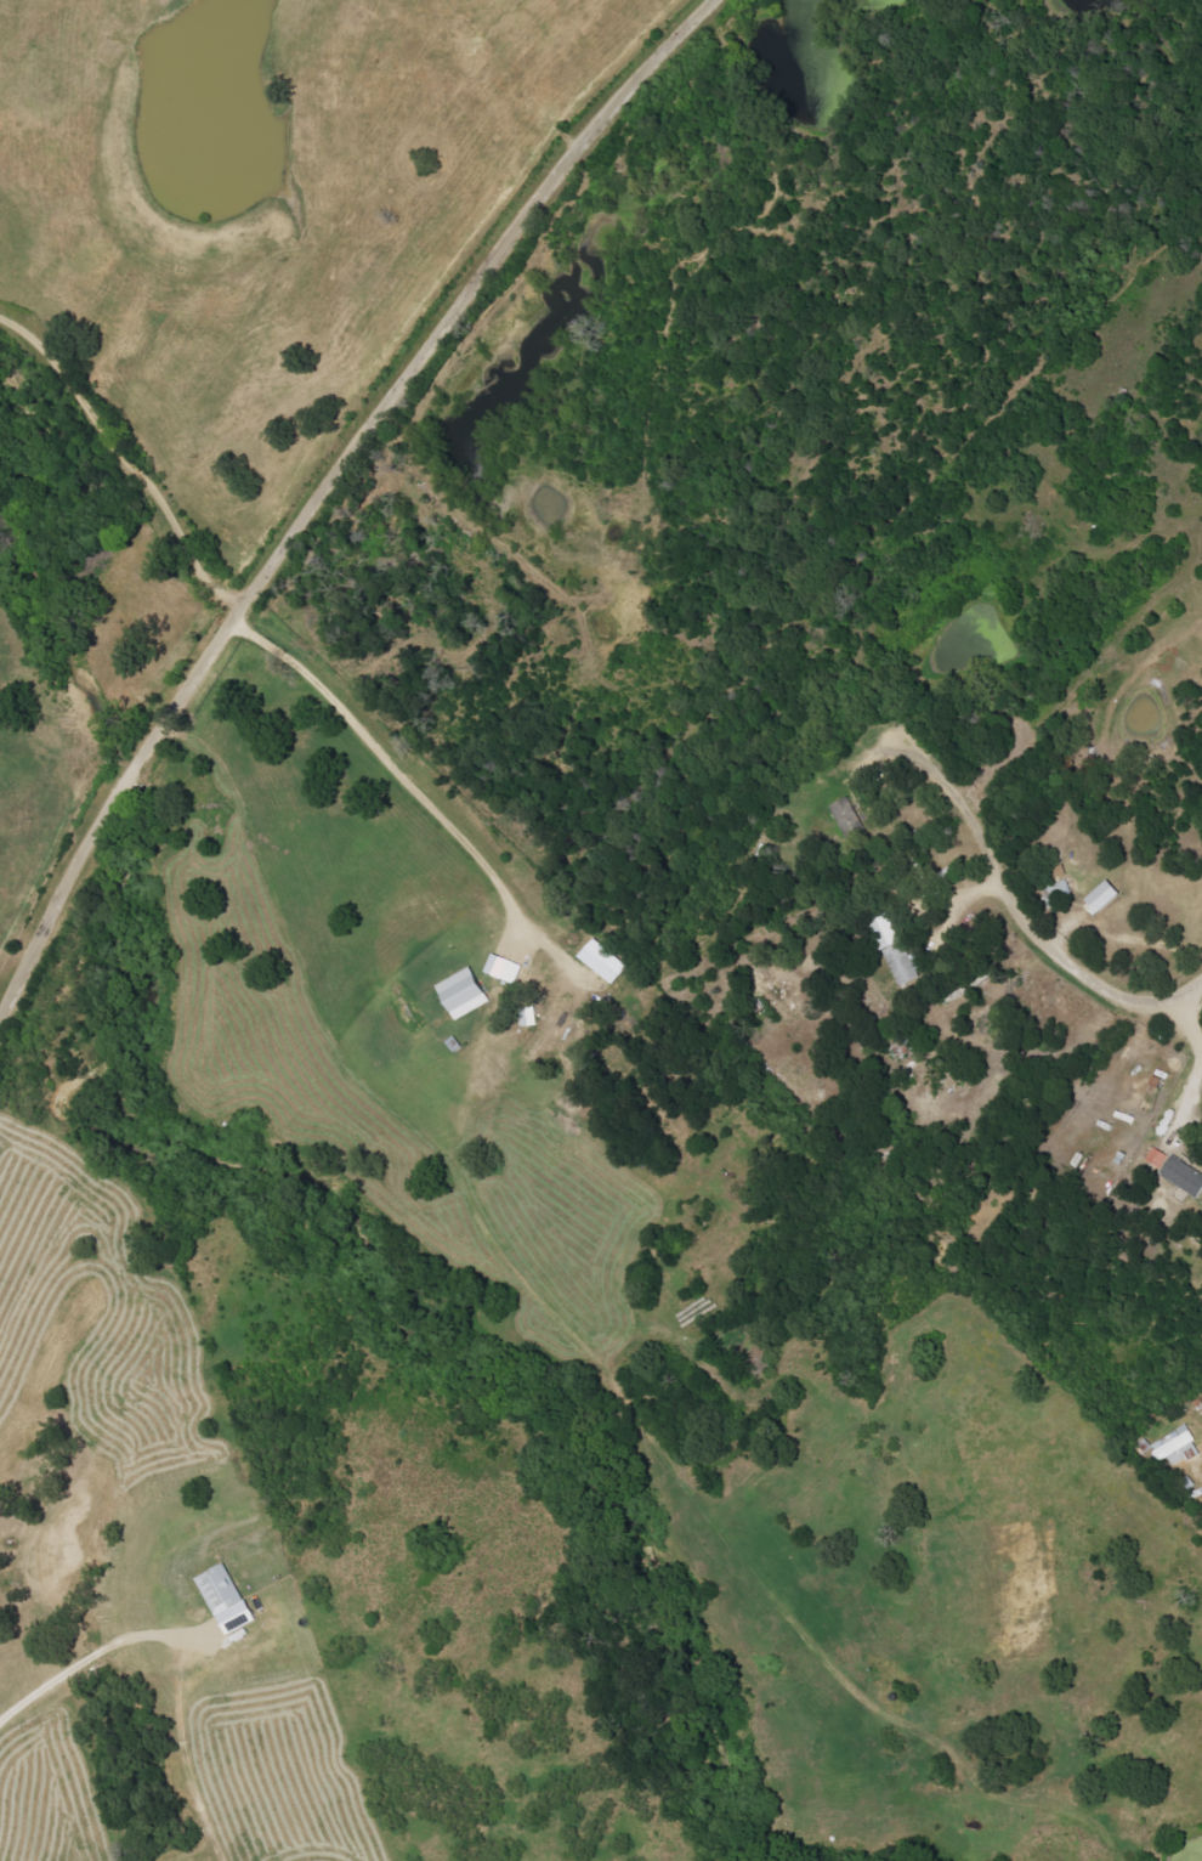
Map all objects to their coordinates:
road: (511, 55)
road: (318, 508)
road: (420, 793)
building: (845, 810)
building: (1105, 895)
road: (1026, 923)
building: (895, 949)
building: (602, 961)
building: (464, 992)
building: (528, 1016)
road: (1187, 1023)
building: (1156, 1156)
building: (1184, 1175)
building: (226, 1597)
road: (86, 1661)
road: (183, 1750)

